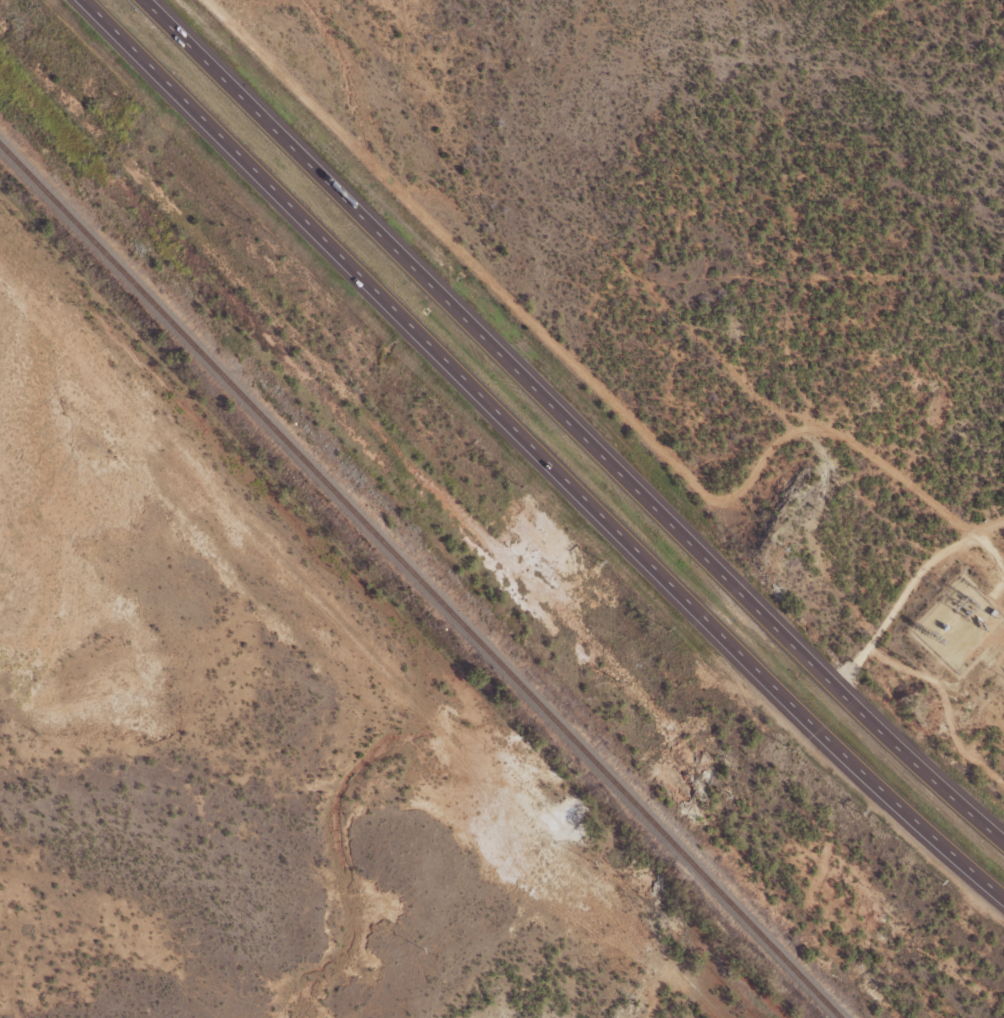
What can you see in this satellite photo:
road: (563, 434)
road: (537, 452)
railway: (416, 585)
power substation: (959, 623)

